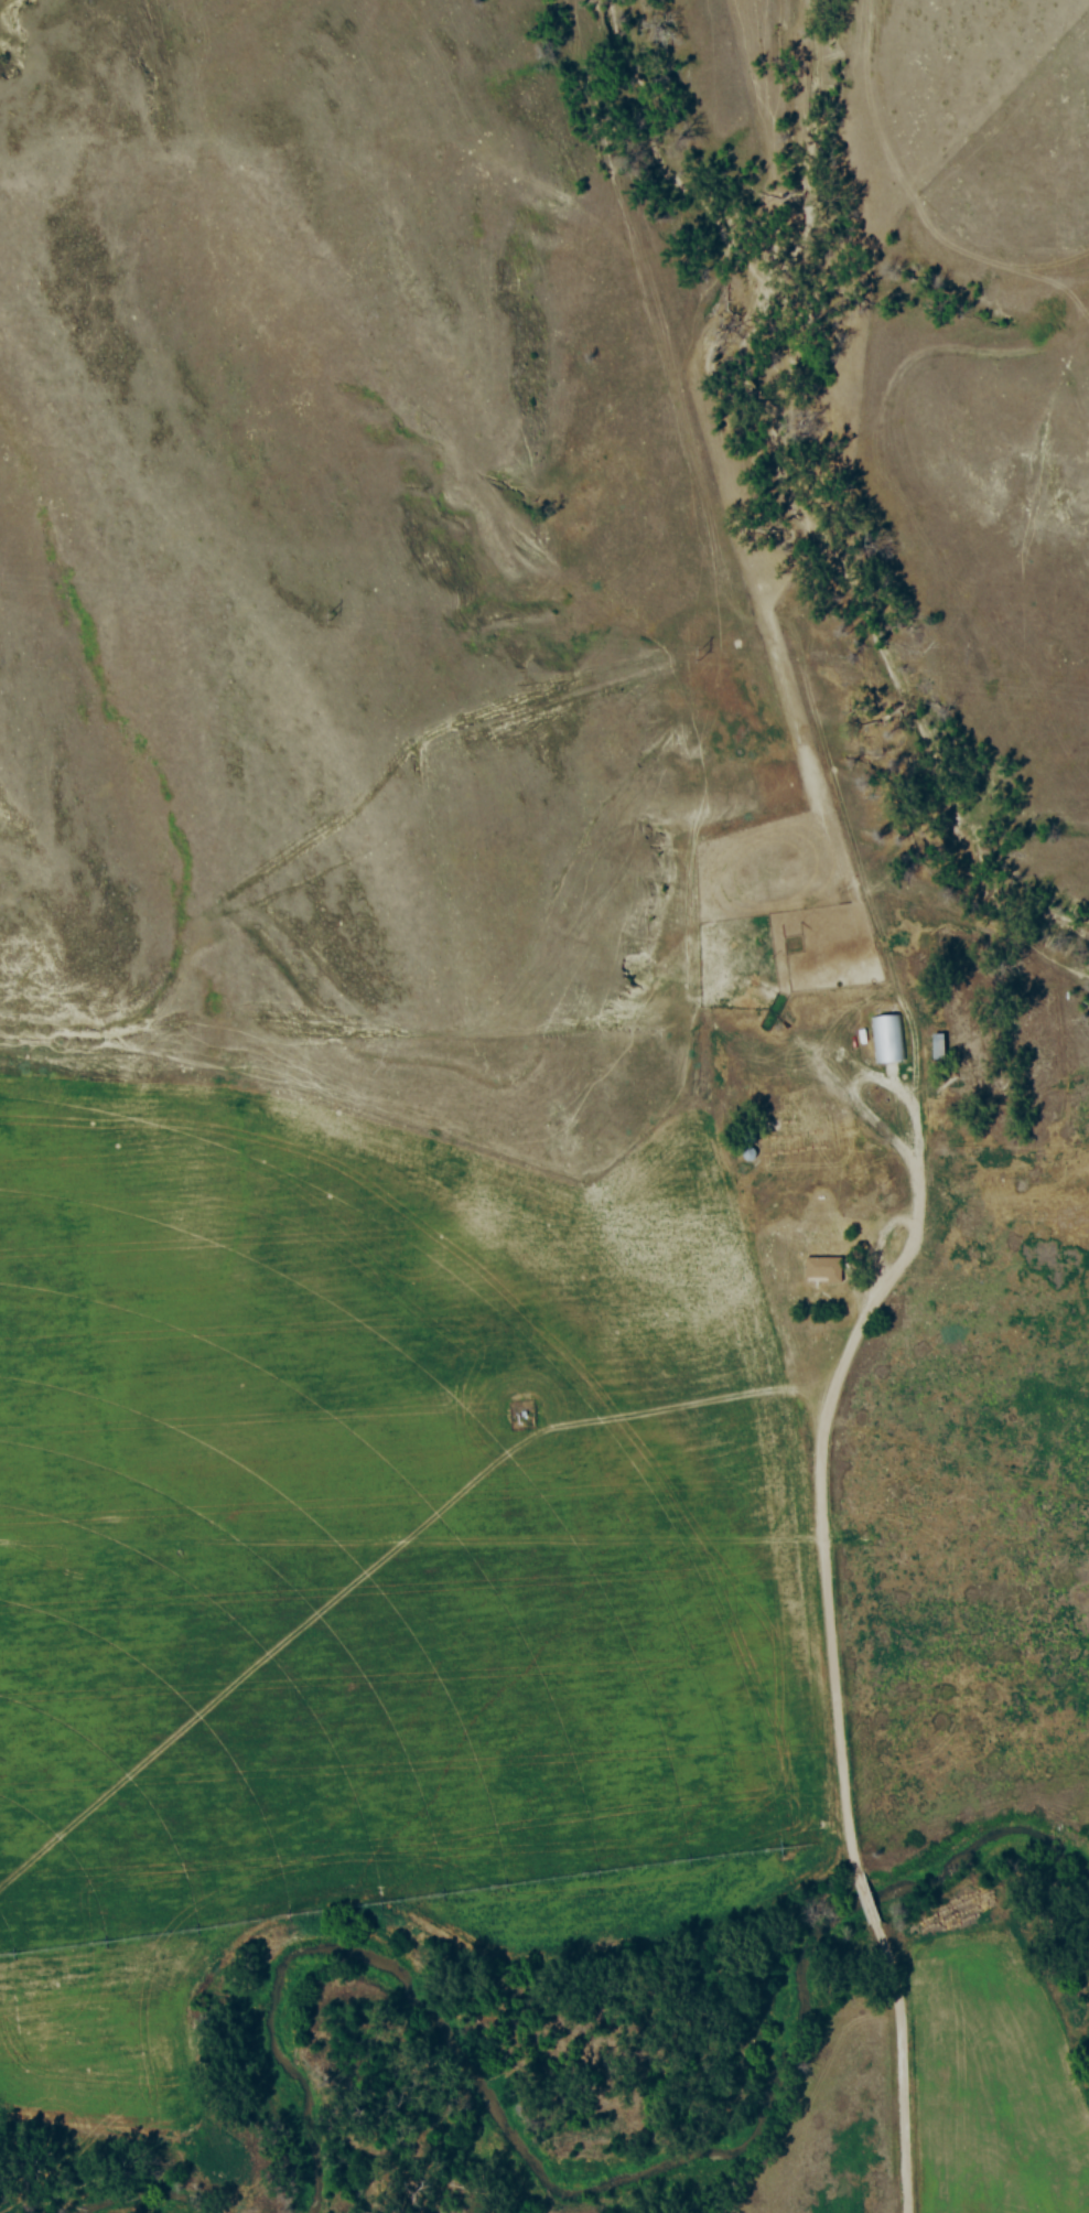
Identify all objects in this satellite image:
building: (889, 1039)
building: (938, 1045)
building: (822, 1268)
road: (822, 1493)
road: (865, 1898)
road: (902, 2062)

